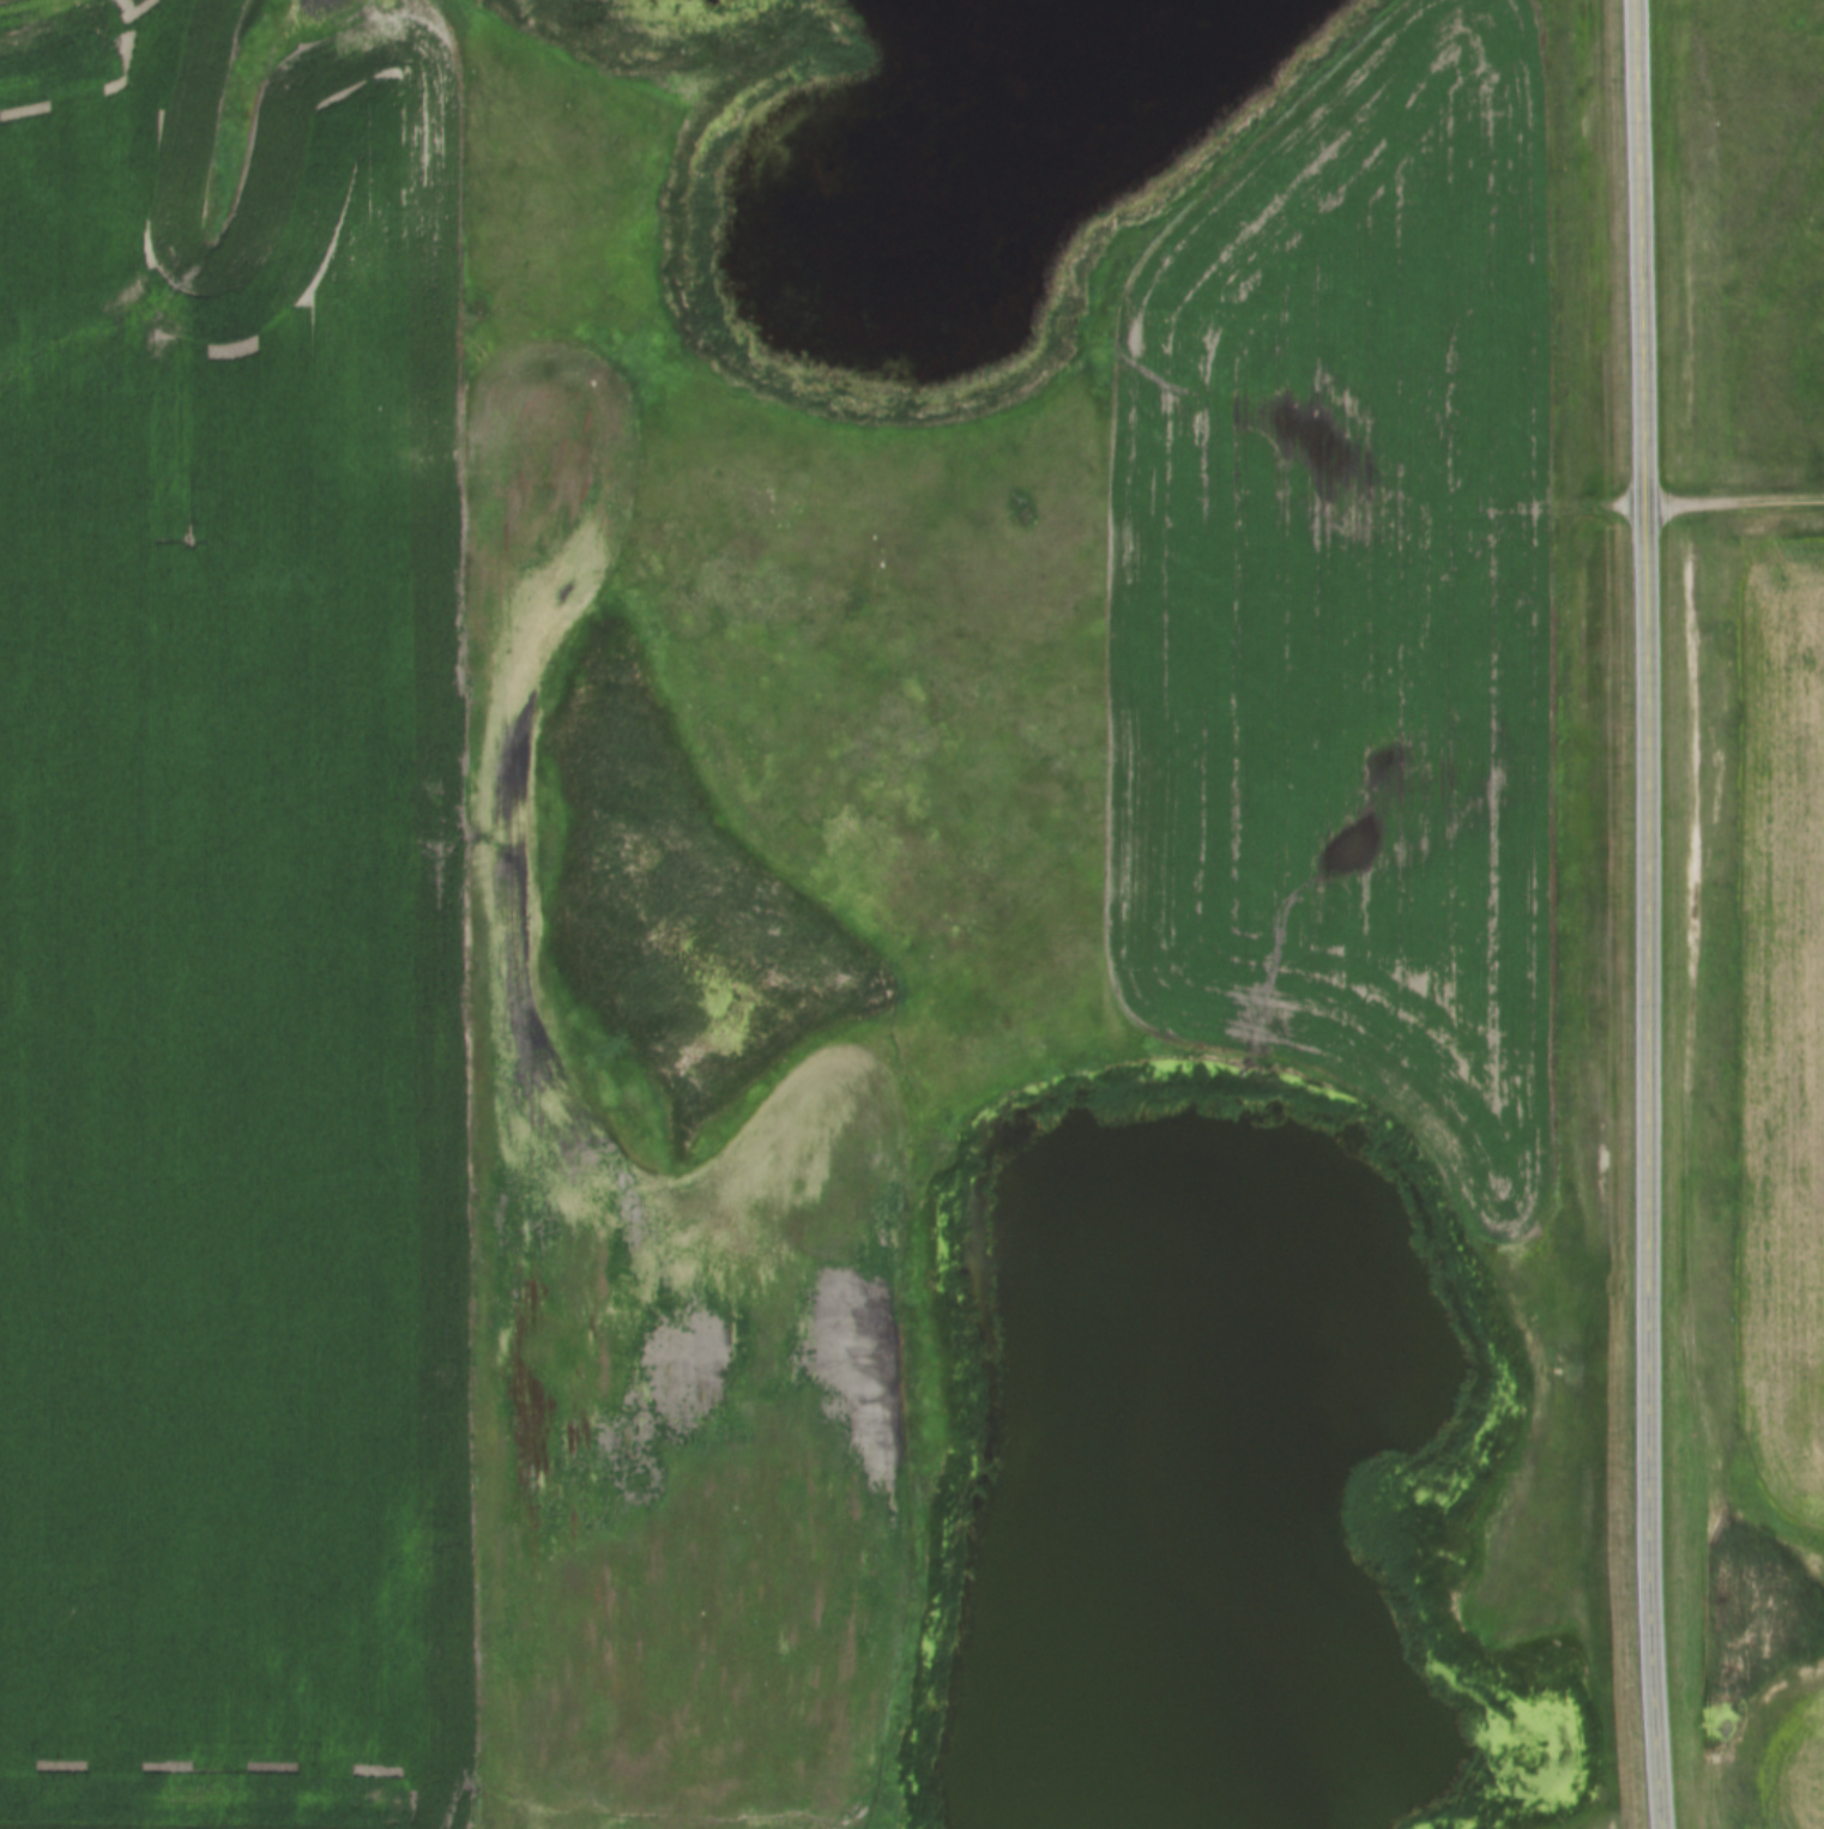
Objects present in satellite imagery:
road: (1737, 502)
road: (1651, 914)

